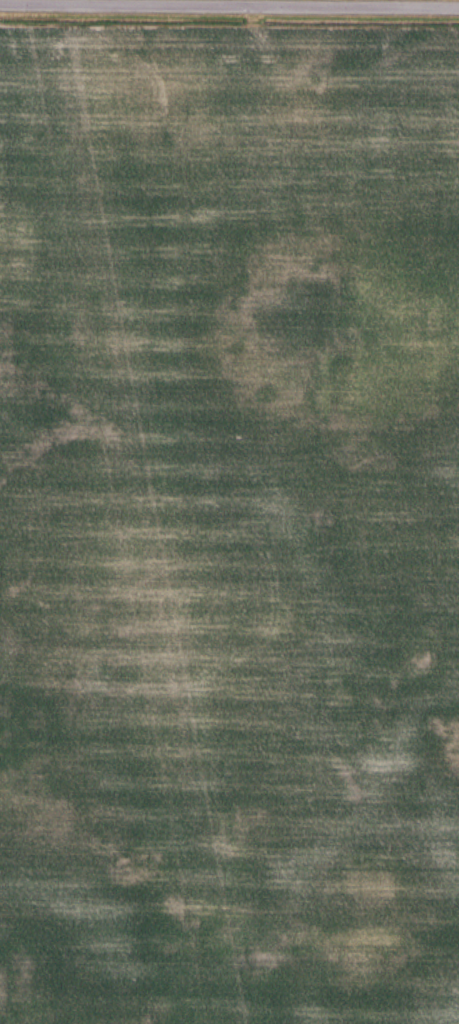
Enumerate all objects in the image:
road: (235, 1)

